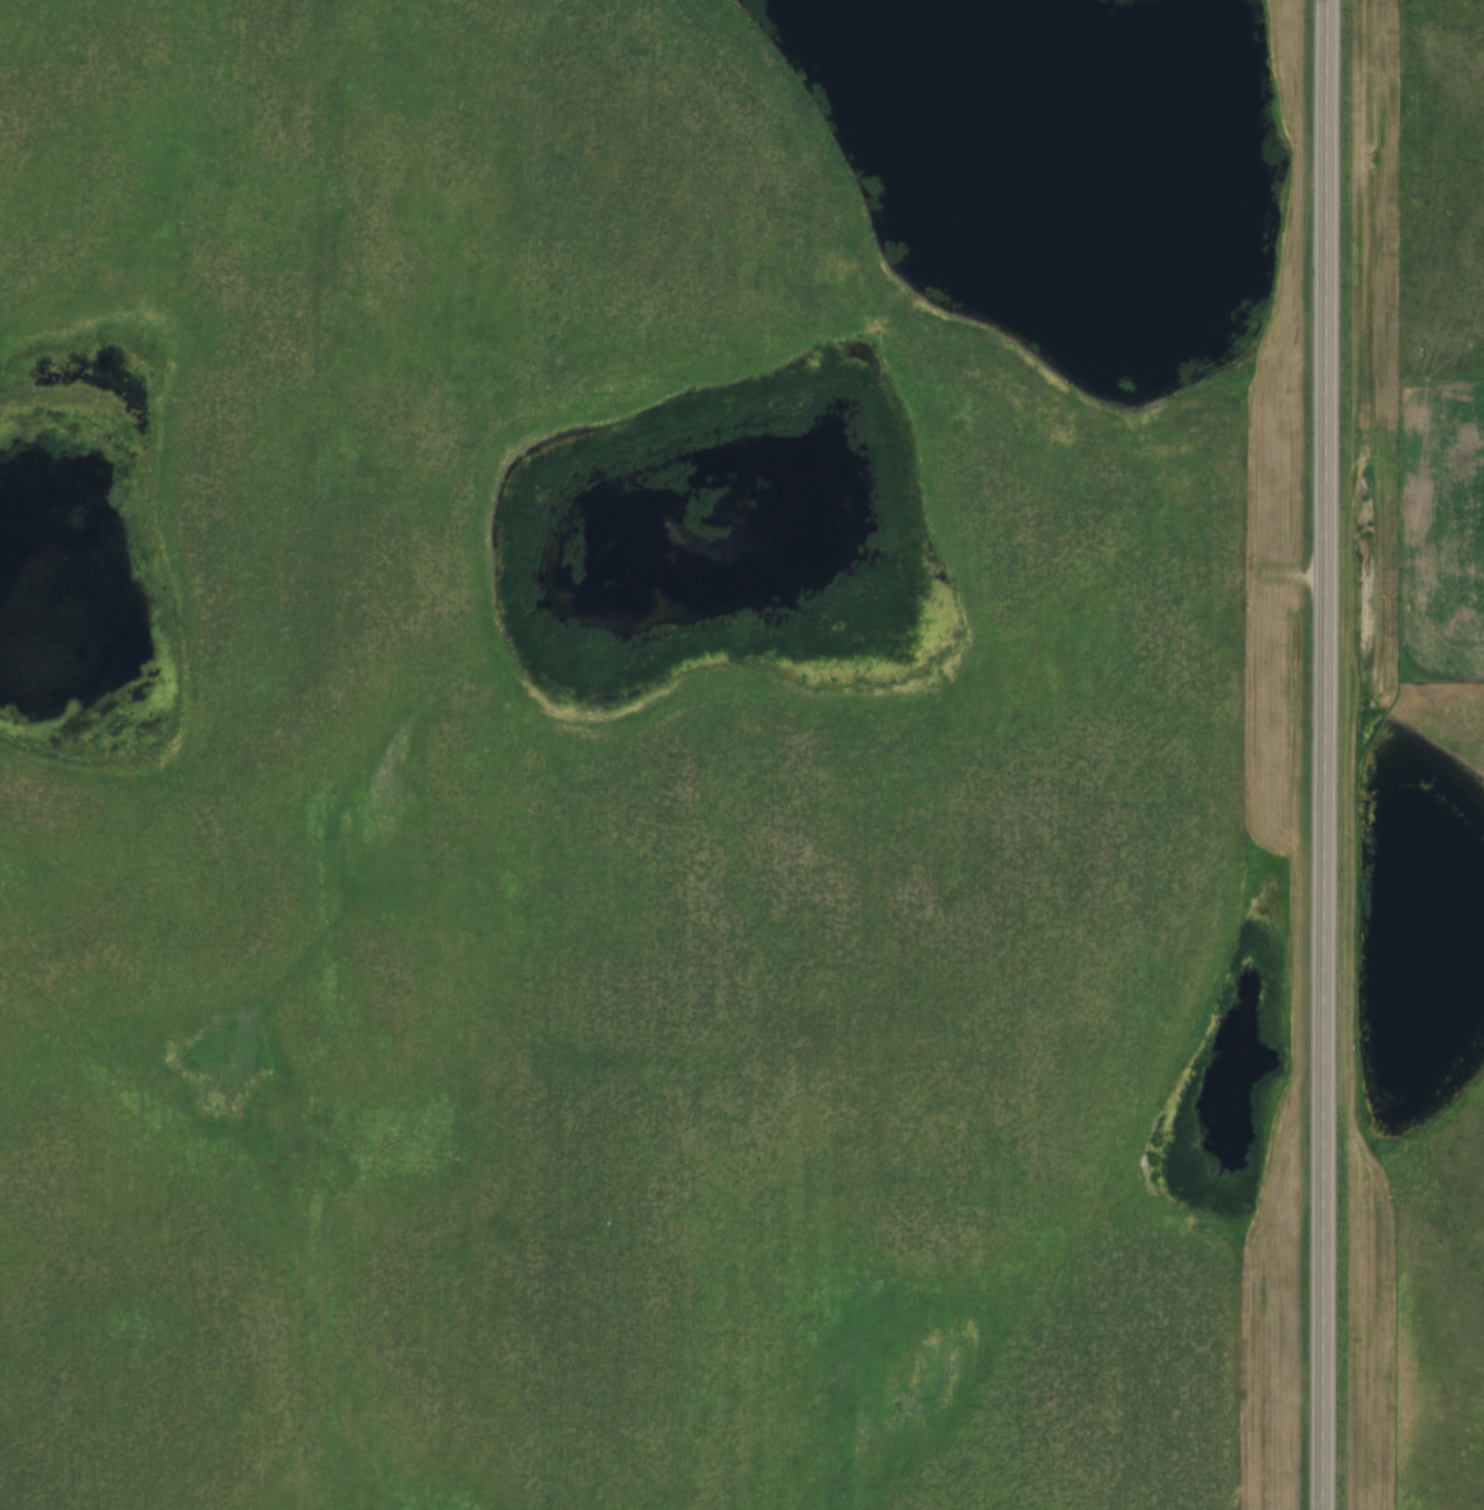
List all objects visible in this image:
road: (1323, 755)

